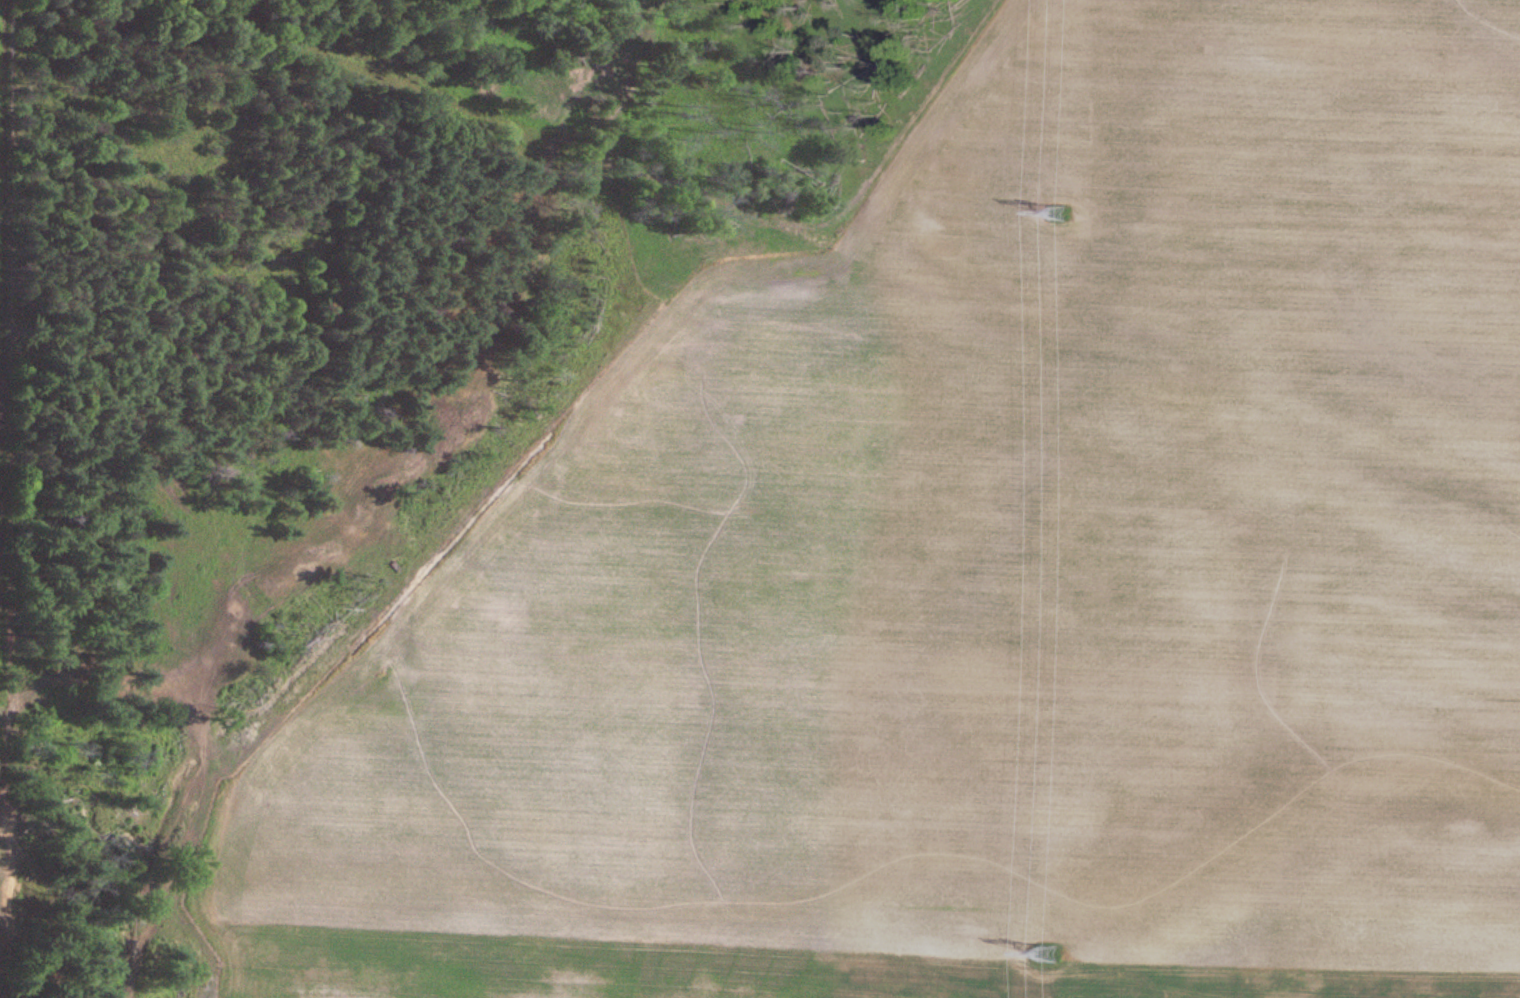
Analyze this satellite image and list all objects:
power tower: (1061, 213)
power tower: (1052, 955)

